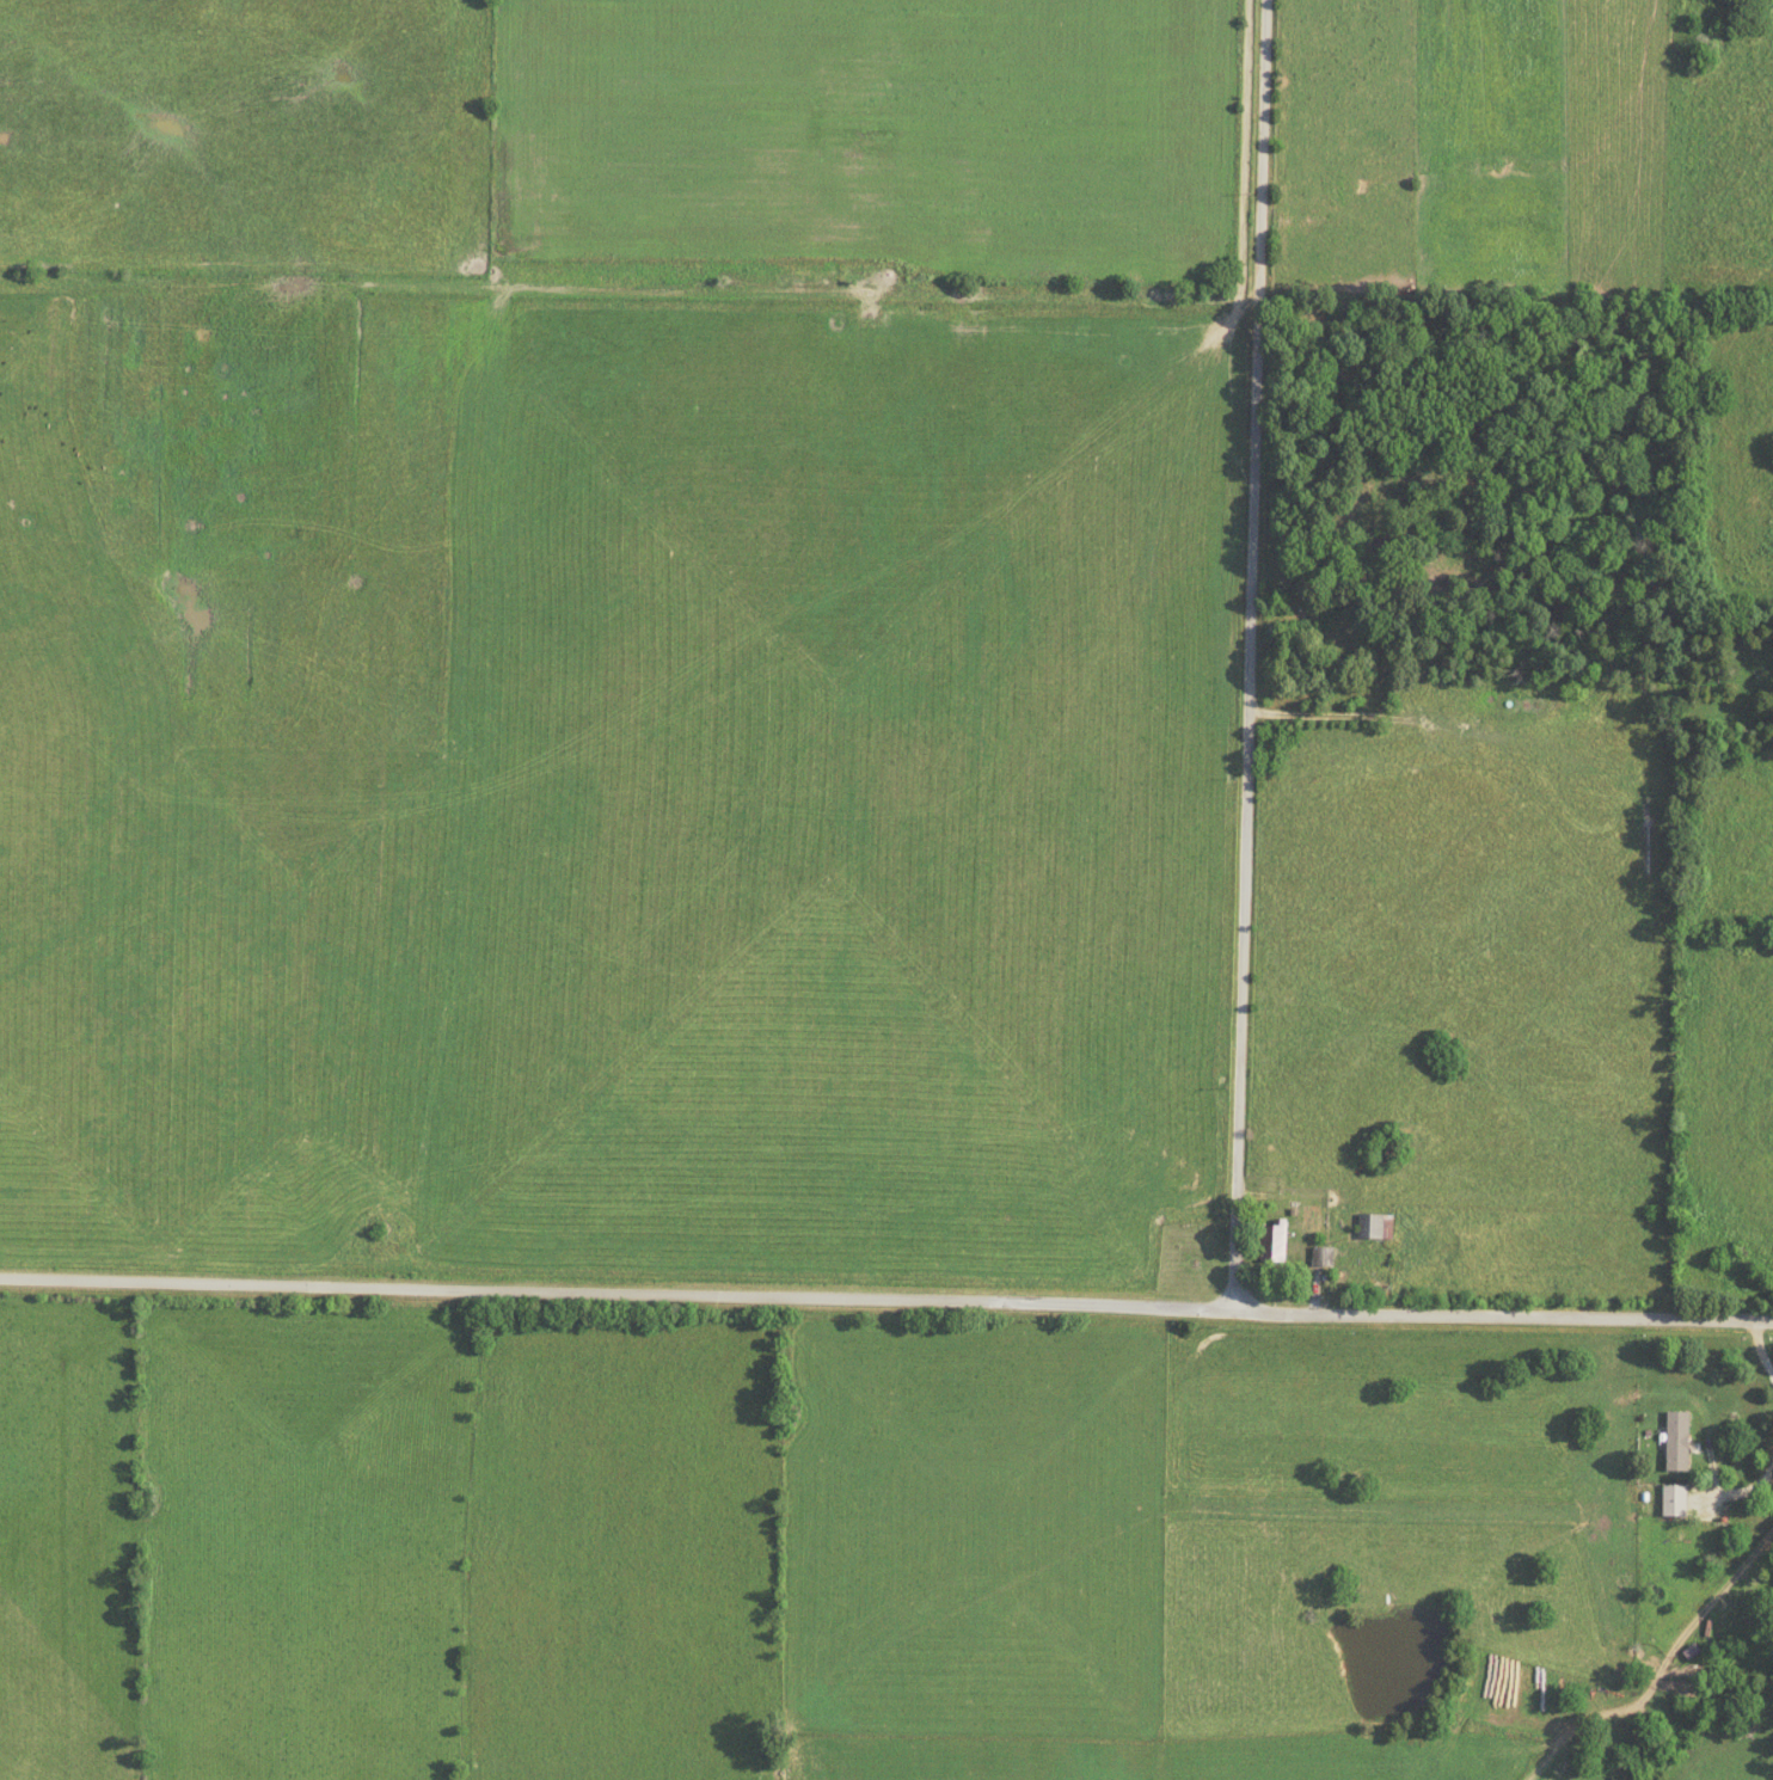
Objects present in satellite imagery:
building: (1350, 646)
road: (1254, 656)
park: (1726, 671)
building: (1372, 1226)
building: (1271, 1241)
building: (1320, 1257)
road: (885, 1302)
road: (1761, 1342)
building: (1675, 1441)
road: (1742, 1490)
building: (1671, 1500)

